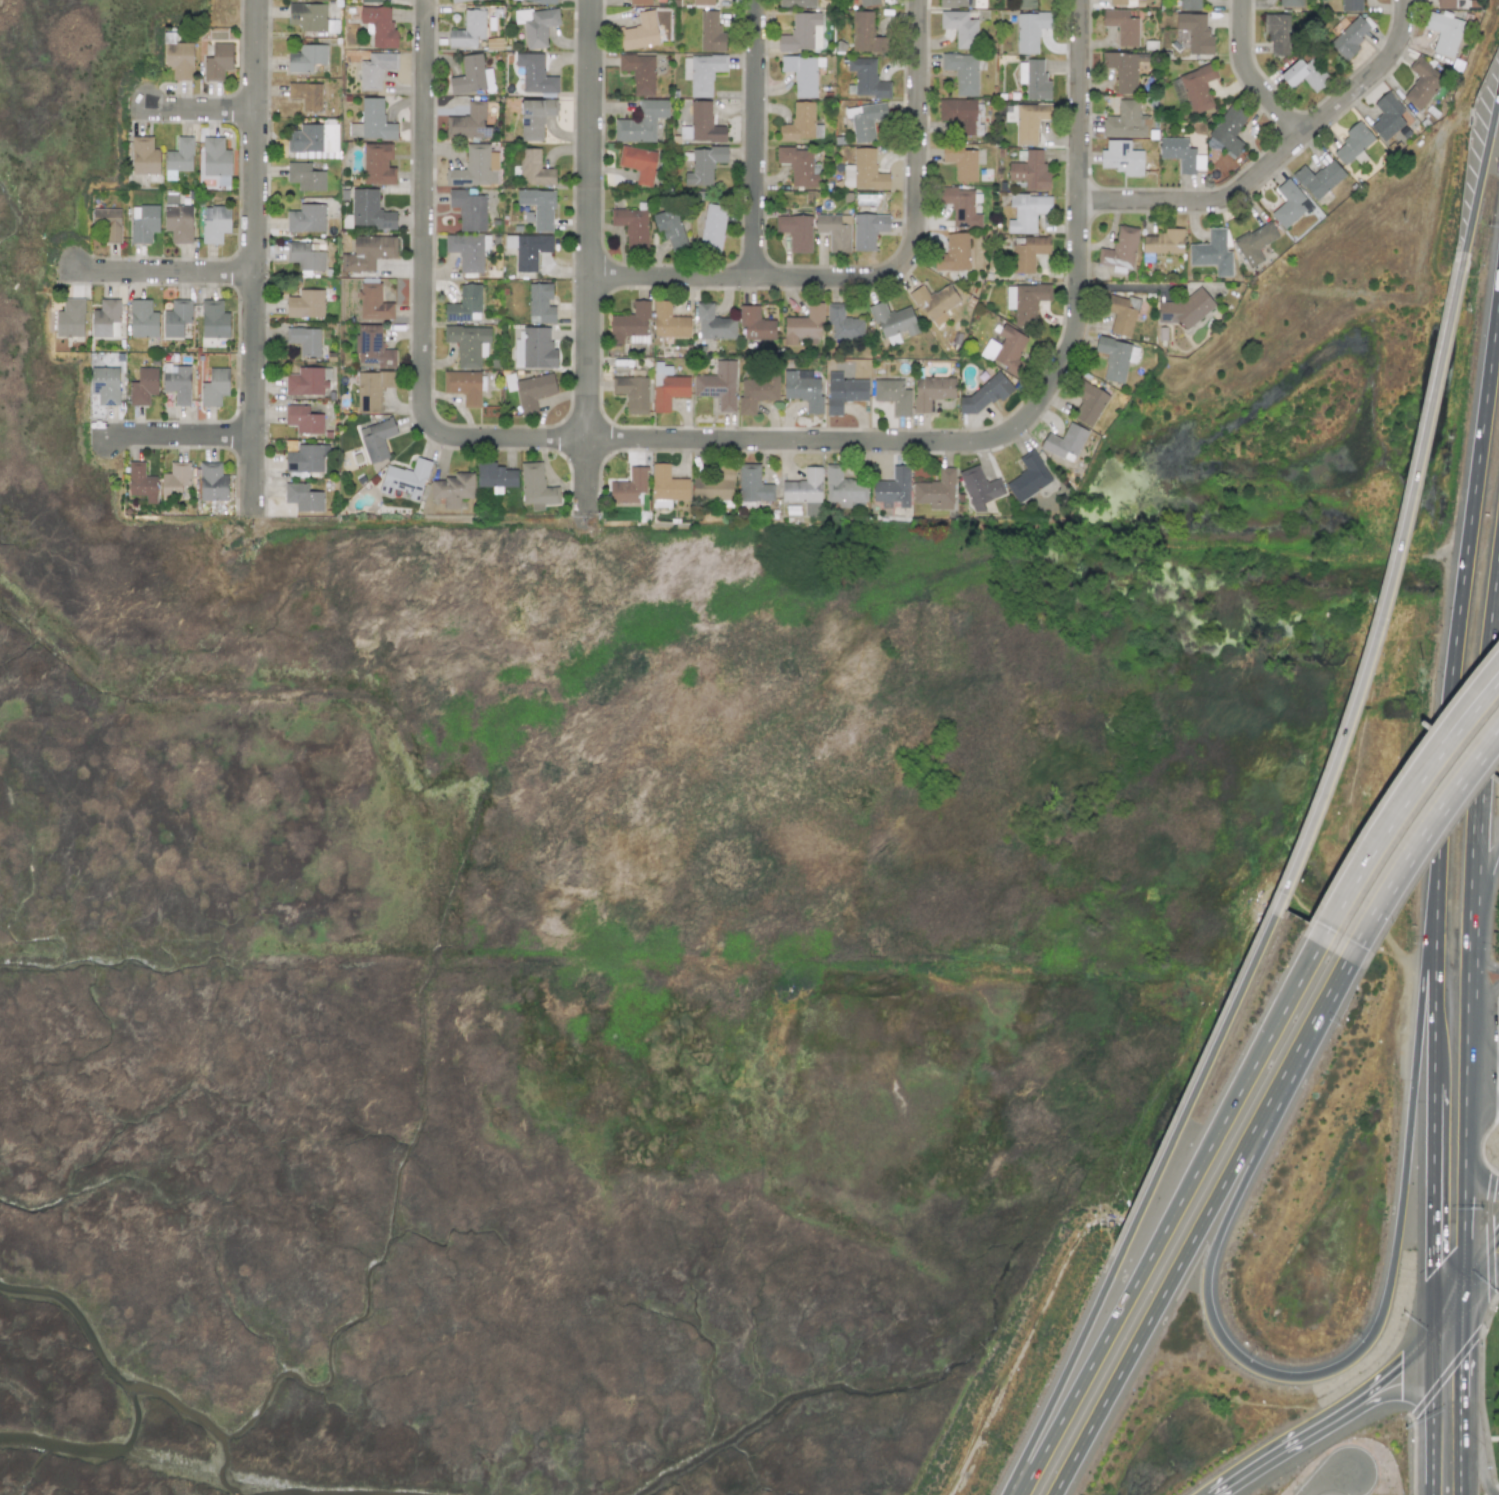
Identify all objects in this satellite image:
building: (372, 0)
building: (456, 1)
building: (539, 1)
building: (640, 2)
building: (703, 2)
building: (1117, 2)
building: (797, 3)
building: (868, 3)
building: (960, 3)
building: (1290, 3)
building: (1444, 3)
building: (1025, 4)
building: (1189, 4)
building: (1351, 5)
building: (309, 17)
building: (537, 25)
building: (379, 26)
building: (1121, 26)
building: (960, 28)
building: (468, 29)
building: (1031, 30)
building: (640, 32)
building: (711, 32)
building: (802, 33)
building: (865, 33)
building: (1196, 33)
building: (1444, 33)
building: (1277, 35)
building: (1349, 37)
building: (306, 58)
building: (180, 60)
building: (217, 62)
building: (375, 69)
building: (1124, 69)
building: (702, 72)
building: (962, 72)
building: (535, 73)
building: (639, 73)
building: (801, 74)
building: (1304, 74)
building: (471, 75)
road: (1249, 77)
building: (1034, 80)
building: (1422, 82)
building: (1197, 87)
building: (305, 94)
road: (199, 108)
building: (958, 114)
building: (1387, 116)
building: (535, 117)
building: (864, 120)
building: (372, 121)
building: (1124, 121)
building: (468, 122)
building: (641, 122)
building: (1029, 122)
building: (801, 123)
building: (701, 124)
building: (1227, 133)
road: (756, 139)
building: (313, 140)
building: (1352, 145)
building: (1179, 153)
building: (144, 156)
road: (1277, 156)
building: (179, 157)
building: (1121, 158)
building: (216, 160)
building: (961, 162)
building: (638, 163)
building: (377, 164)
building: (702, 165)
building: (798, 165)
building: (475, 167)
building: (533, 169)
building: (864, 171)
building: (1030, 171)
road: (1481, 171)
building: (305, 176)
building: (1319, 178)
building: (1289, 204)
building: (961, 207)
building: (537, 208)
building: (468, 209)
building: (370, 210)
building: (1027, 211)
road: (426, 213)
building: (306, 218)
building: (177, 219)
road: (593, 220)
building: (108, 223)
building: (712, 226)
building: (632, 227)
building: (670, 228)
building: (867, 230)
building: (795, 231)
building: (835, 231)
building: (1162, 243)
building: (1254, 243)
building: (526, 249)
building: (1119, 249)
building: (468, 251)
road: (1080, 251)
building: (368, 252)
building: (1027, 252)
building: (1212, 252)
building: (953, 253)
building: (304, 256)
road: (251, 257)
road: (161, 271)
road: (885, 275)
building: (1026, 301)
building: (935, 302)
building: (305, 303)
building: (373, 303)
building: (540, 303)
building: (465, 304)
building: (1185, 309)
building: (1120, 313)
building: (70, 318)
building: (106, 318)
building: (176, 318)
building: (142, 319)
building: (213, 319)
building: (893, 320)
building: (669, 322)
building: (714, 323)
building: (843, 323)
building: (755, 324)
building: (630, 325)
building: (804, 325)
building: (304, 340)
building: (468, 344)
building: (372, 347)
building: (1004, 348)
building: (535, 349)
building: (1116, 358)
building: (305, 381)
building: (177, 382)
building: (105, 385)
building: (718, 385)
building: (143, 386)
building: (463, 386)
building: (214, 387)
building: (668, 388)
building: (371, 389)
building: (803, 390)
building: (757, 391)
building: (932, 391)
building: (843, 392)
building: (632, 393)
building: (893, 395)
building: (1087, 402)
building: (303, 419)
road: (177, 436)
road: (1424, 436)
building: (376, 439)
road: (698, 440)
building: (1065, 442)
building: (304, 459)
building: (495, 477)
building: (1028, 477)
building: (405, 479)
building: (141, 482)
building: (213, 482)
road: (591, 482)
building: (753, 484)
building: (629, 486)
building: (666, 486)
building: (536, 487)
building: (715, 487)
building: (979, 487)
building: (842, 488)
building: (893, 488)
building: (453, 489)
building: (804, 489)
building: (936, 490)
building: (302, 497)
road: (1460, 594)
road: (1482, 735)
road: (1333, 769)
road: (1397, 792)
road: (1402, 808)
road: (1418, 844)
road: (1485, 867)
road: (1484, 964)
road: (1435, 970)
road: (1484, 1000)
road: (1470, 1001)
road: (1484, 1060)
road: (1483, 1095)
road: (1475, 1183)
road: (1433, 1186)
road: (1463, 1204)
road: (1141, 1206)
road: (1169, 1220)
road: (1199, 1227)
road: (1480, 1274)
road: (1447, 1311)
road: (1461, 1326)
road: (1433, 1359)
road: (1391, 1371)
road: (1316, 1374)
road: (1446, 1374)
road: (1387, 1393)
road: (1460, 1426)
road: (1410, 1438)
road: (1479, 1439)
road: (1432, 1443)
road: (1276, 1451)
road: (1479, 1467)
road: (1326, 1481)
road: (1356, 1484)

